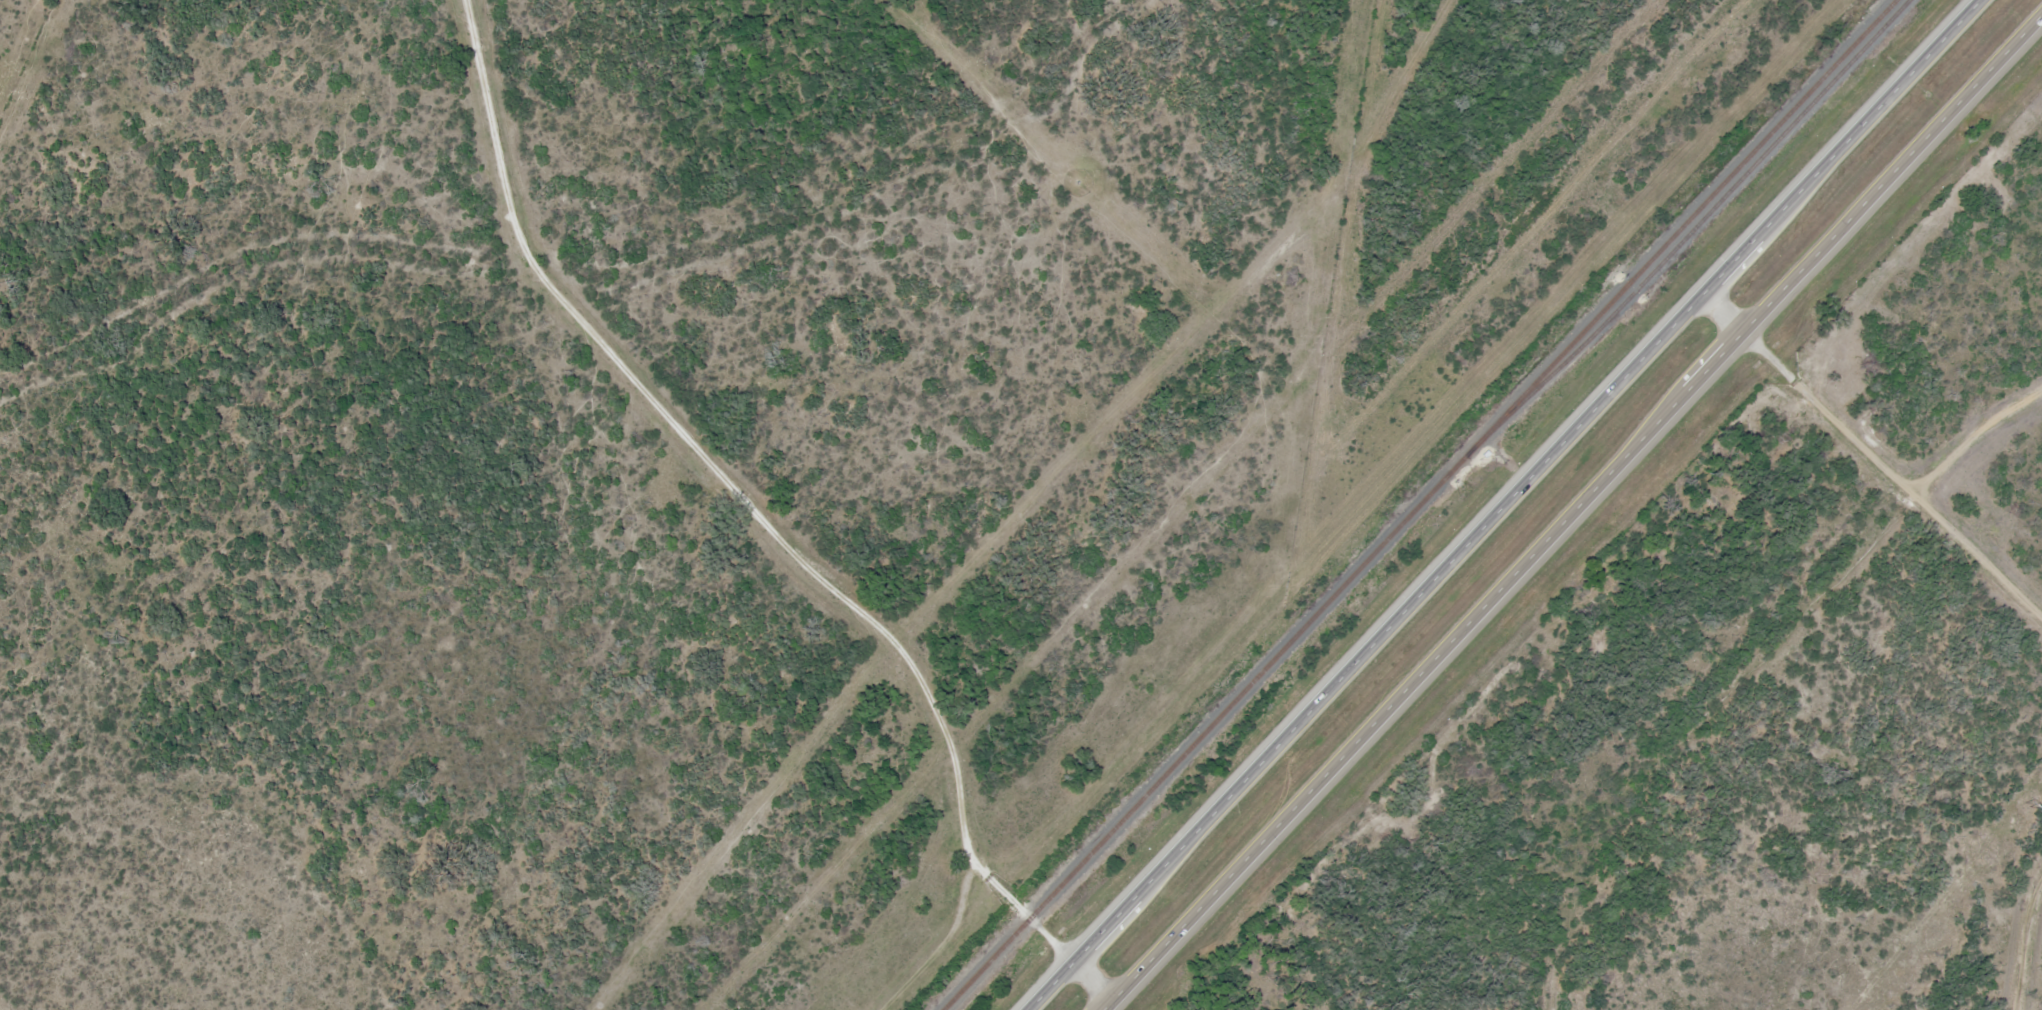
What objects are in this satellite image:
railway: (1696, 223)
road: (1725, 315)
railway: (1414, 504)
road: (1514, 505)
road: (1576, 509)
road: (1880, 513)
road: (755, 524)
road: (1740, 670)
power tower: (2027, 803)
road: (2019, 939)

